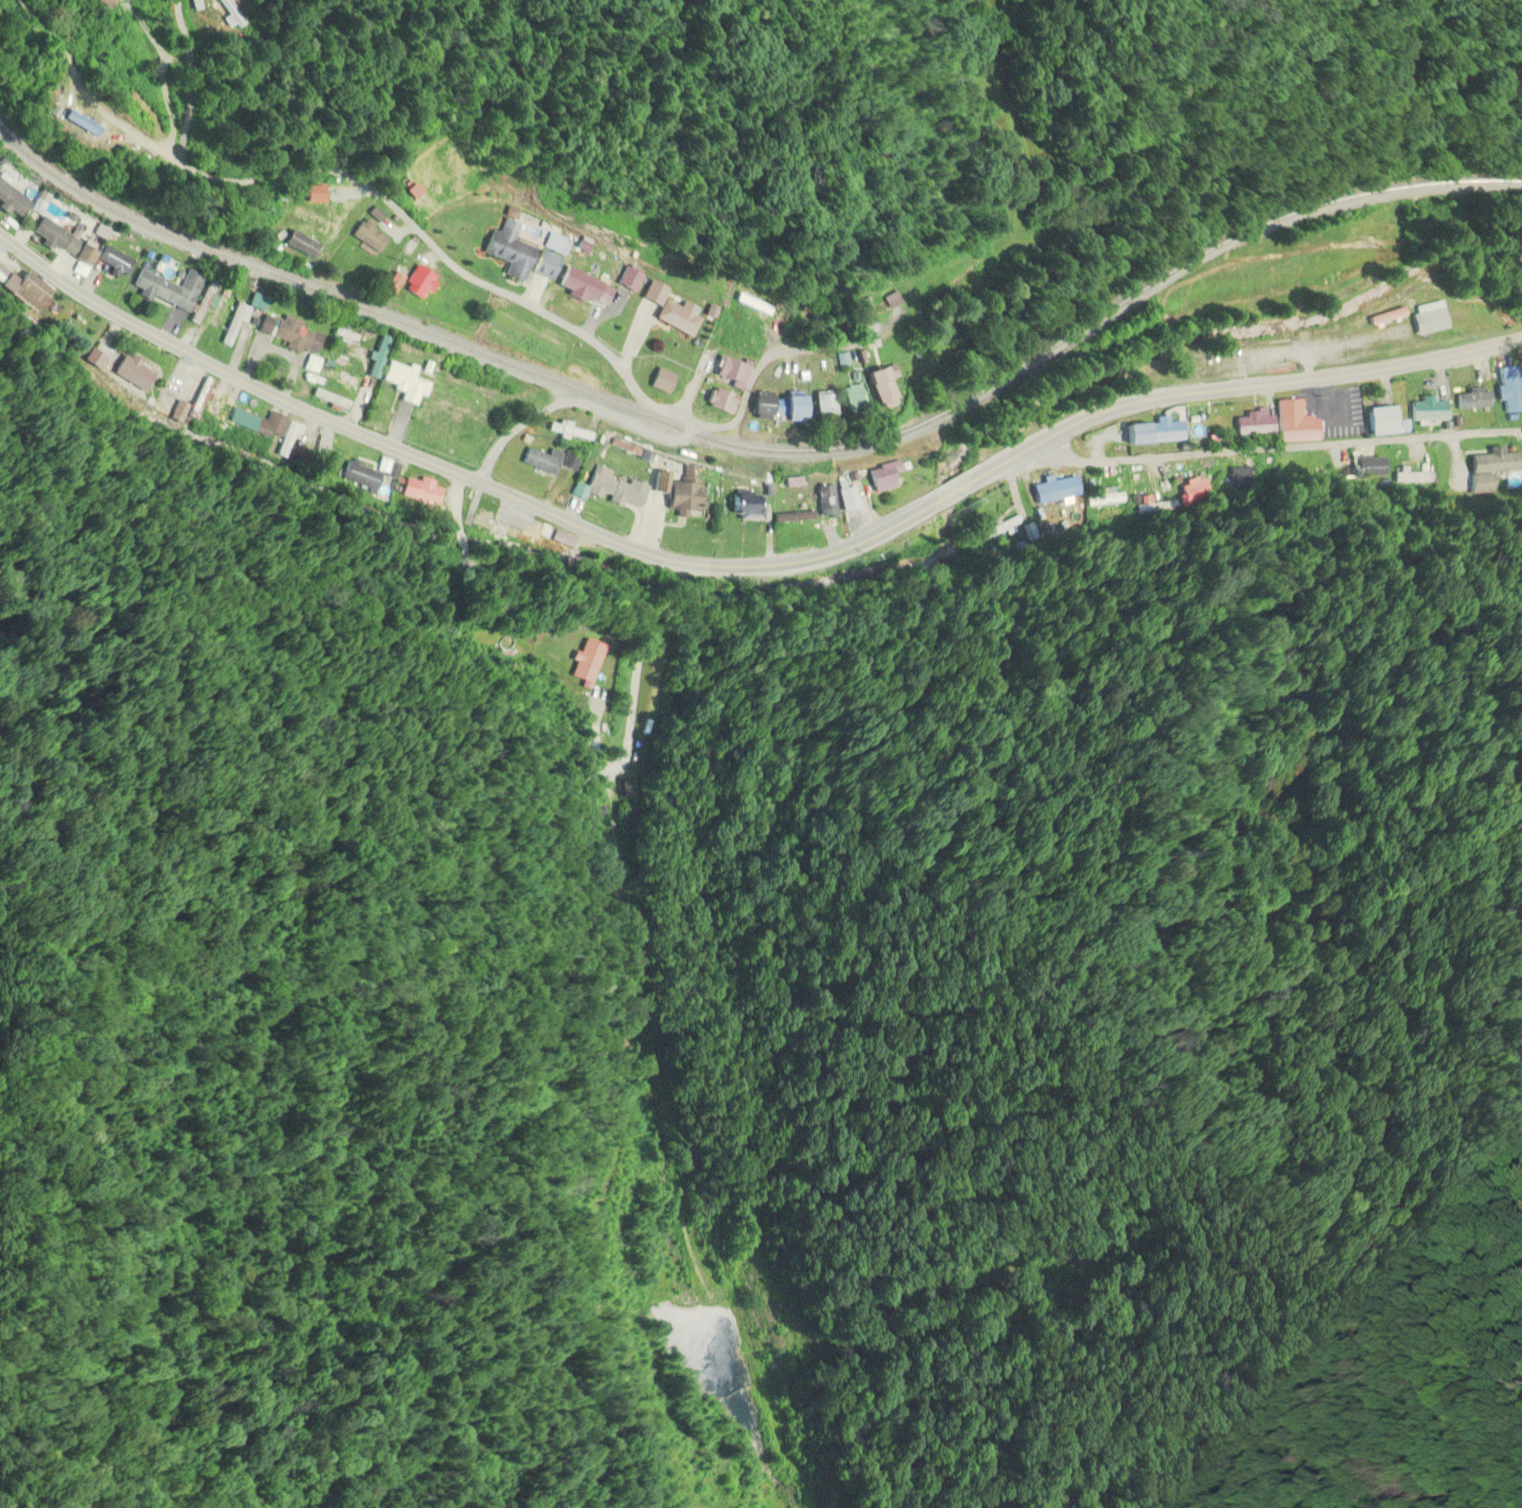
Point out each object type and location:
building: (8, 0)
building: (106, 3)
building: (193, 5)
building: (230, 14)
road: (157, 77)
road: (190, 80)
building: (77, 123)
road: (373, 157)
road: (340, 184)
building: (413, 191)
building: (316, 194)
building: (12, 196)
building: (308, 218)
building: (367, 236)
building: (60, 242)
building: (553, 243)
building: (516, 255)
building: (112, 262)
road: (454, 265)
building: (628, 279)
building: (418, 283)
building: (390, 285)
building: (582, 287)
building: (24, 289)
building: (165, 289)
building: (889, 300)
building: (669, 310)
building: (1430, 321)
building: (287, 333)
building: (741, 341)
building: (92, 359)
road: (764, 366)
building: (308, 369)
building: (131, 372)
building: (728, 372)
building: (659, 380)
building: (401, 382)
building: (877, 385)
road: (1246, 387)
building: (1508, 389)
building: (199, 399)
building: (466, 399)
building: (1472, 399)
building: (849, 400)
building: (717, 401)
building: (819, 405)
building: (773, 407)
building: (1426, 410)
building: (179, 412)
building: (1342, 415)
building: (1378, 421)
building: (257, 423)
building: (1293, 423)
building: (1254, 424)
building: (1152, 432)
building: (289, 440)
railway: (759, 448)
road: (1276, 450)
building: (539, 460)
building: (567, 461)
building: (1495, 462)
road: (444, 469)
building: (363, 474)
building: (882, 476)
building: (614, 488)
building: (1057, 490)
building: (419, 491)
building: (677, 492)
road: (950, 492)
building: (823, 498)
building: (845, 498)
building: (744, 507)
road: (613, 555)
road: (631, 590)
building: (582, 661)
road: (638, 676)
quarry: (715, 1382)

